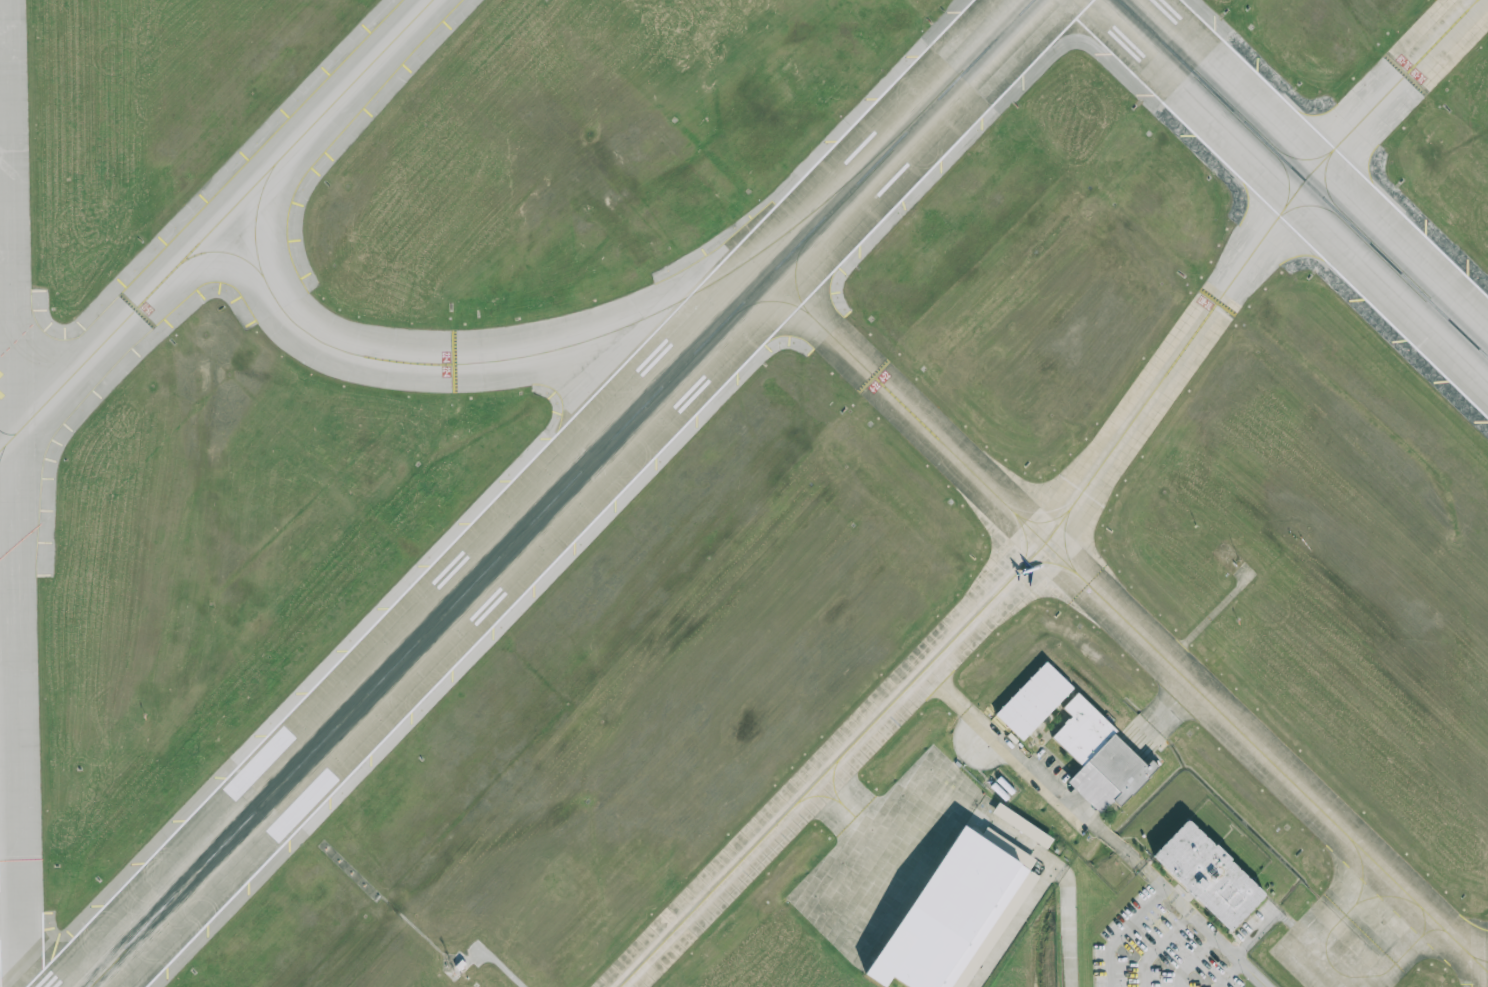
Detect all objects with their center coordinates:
airport runway: (1303, 179)
airport taxiway: (841, 186)
airport taxiway: (215, 224)
airport taxiway: (220, 252)
airport taxiway: (795, 270)
airport taxiway: (748, 305)
airport taxiway: (399, 361)
airport runway: (558, 493)
airport: (744, 493)
airport taxiway: (1068, 510)
airport taxiway: (1042, 521)
airport taxiway: (1026, 539)
airport taxiway: (1064, 541)
airport taxiway: (1049, 561)
airport taxiway: (1148, 640)
road: (944, 690)
road: (1173, 704)
road: (989, 733)
building: (1100, 749)
road: (1113, 768)
road: (1041, 780)
airport taxiway: (832, 782)
airport taxiway: (828, 796)
building: (1022, 826)
road: (1017, 841)
airport apron: (884, 855)
building: (1205, 878)
building: (950, 916)
parking lot: (1260, 924)
road: (1204, 925)
road: (1066, 930)
road: (1123, 931)
parking lot: (1156, 949)
airport taxiway: (1407, 950)
airport apron: (1323, 959)
airport taxiway: (1479, 962)

